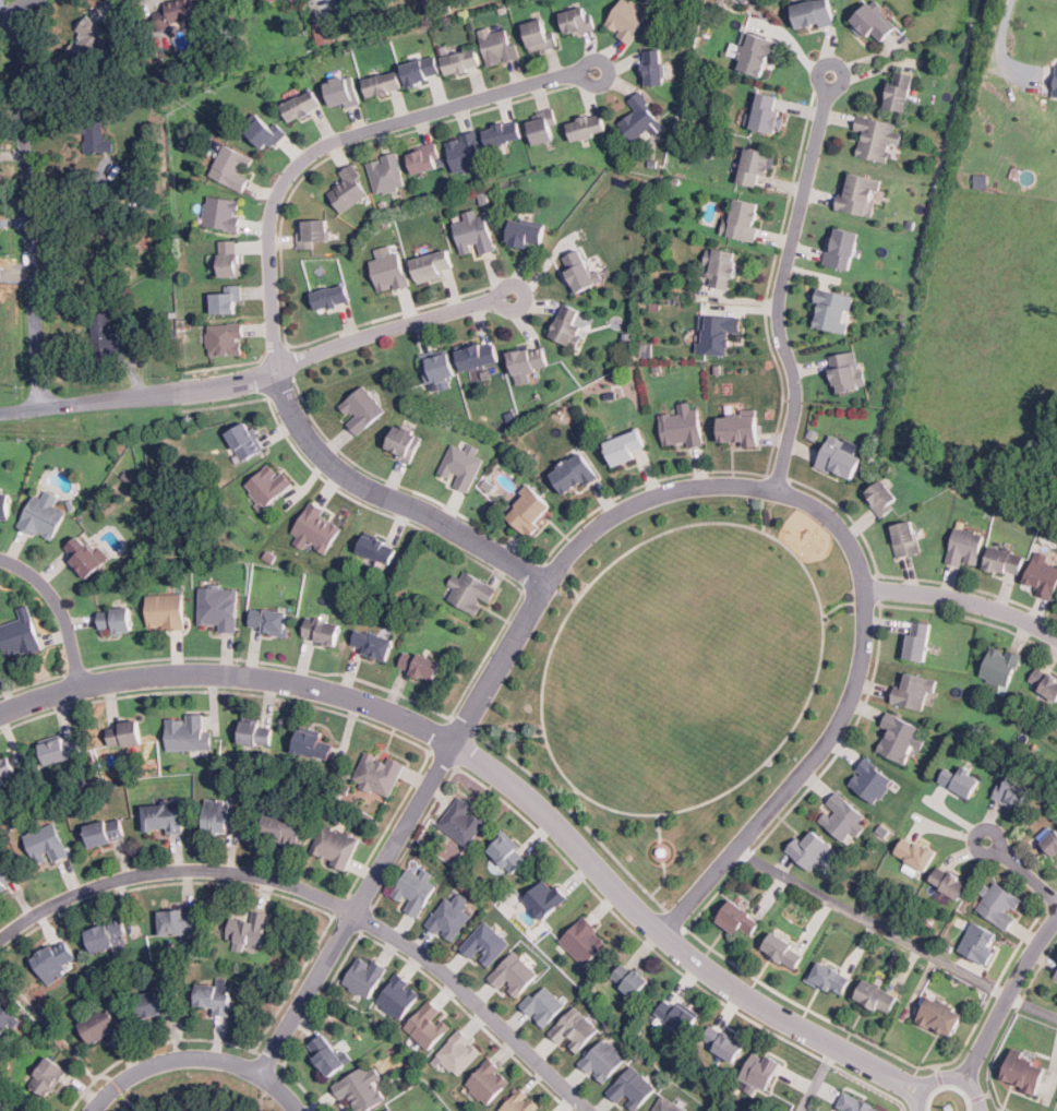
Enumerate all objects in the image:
building: (266, 0)
building: (272, 0)
road: (11, 5)
building: (179, 12)
building: (814, 13)
building: (360, 14)
building: (628, 19)
building: (578, 21)
building: (874, 23)
building: (324, 33)
building: (365, 34)
building: (539, 36)
building: (91, 41)
building: (497, 46)
road: (1001, 48)
building: (757, 55)
building: (463, 62)
building: (654, 68)
building: (422, 73)
building: (384, 84)
building: (343, 91)
building: (1056, 91)
building: (900, 92)
building: (302, 107)
building: (768, 112)
building: (642, 119)
building: (587, 129)
building: (542, 130)
building: (265, 133)
building: (96, 135)
building: (502, 135)
building: (876, 138)
building: (108, 150)
building: (466, 153)
building: (424, 159)
building: (756, 166)
building: (233, 167)
building: (387, 174)
building: (982, 180)
building: (139, 187)
building: (349, 189)
building: (862, 194)
road: (28, 206)
building: (223, 214)
building: (744, 219)
building: (911, 224)
building: (312, 232)
building: (476, 234)
building: (526, 234)
building: (843, 248)
building: (230, 258)
building: (433, 265)
building: (721, 268)
building: (579, 271)
building: (389, 272)
road: (783, 279)
road: (274, 285)
building: (331, 297)
building: (227, 301)
building: (833, 310)
building: (568, 327)
building: (719, 334)
building: (226, 338)
building: (104, 339)
building: (173, 339)
building: (644, 349)
road: (315, 354)
building: (479, 356)
building: (529, 360)
building: (439, 367)
building: (846, 372)
road: (58, 405)
building: (361, 409)
building: (683, 426)
building: (740, 429)
building: (405, 441)
building: (244, 442)
building: (626, 445)
building: (842, 457)
building: (461, 466)
building: (575, 473)
building: (483, 483)
building: (268, 485)
building: (882, 497)
road: (635, 499)
building: (4, 504)
building: (529, 510)
building: (44, 515)
building: (316, 528)
building: (905, 538)
building: (966, 546)
building: (376, 547)
building: (84, 555)
building: (1005, 560)
building: (1043, 575)
building: (471, 592)
building: (1056, 594)
road: (962, 600)
road: (63, 607)
building: (219, 607)
building: (166, 612)
building: (116, 619)
building: (269, 620)
building: (322, 630)
building: (21, 634)
building: (917, 640)
building: (372, 643)
building: (420, 664)
building: (1000, 666)
building: (1045, 682)
building: (915, 691)
building: (1055, 715)
building: (188, 732)
building: (256, 732)
building: (124, 733)
building: (900, 737)
building: (314, 744)
building: (62, 749)
building: (5, 768)
building: (380, 773)
road: (501, 776)
building: (962, 779)
building: (872, 780)
building: (1012, 791)
building: (165, 814)
building: (221, 815)
building: (843, 816)
building: (463, 821)
building: (283, 827)
building: (106, 831)
building: (1052, 841)
building: (47, 844)
building: (336, 845)
building: (809, 848)
building: (508, 852)
building: (915, 853)
road: (1022, 870)
building: (5, 873)
building: (952, 883)
building: (415, 891)
road: (323, 898)
building: (545, 898)
building: (1000, 905)
building: (451, 916)
building: (738, 918)
building: (179, 920)
building: (249, 929)
building: (108, 934)
road: (894, 934)
building: (585, 941)
building: (981, 942)
building: (485, 943)
building: (784, 951)
building: (56, 959)
building: (514, 973)
building: (365, 975)
building: (1056, 976)
building: (830, 977)
building: (630, 978)
building: (399, 996)
building: (878, 996)
building: (1055, 996)
building: (215, 997)
road: (1008, 999)
building: (156, 1002)
building: (543, 1004)
building: (676, 1015)
building: (941, 1016)
building: (5, 1019)
building: (100, 1025)
building: (429, 1025)
building: (574, 1029)
building: (723, 1041)
building: (459, 1052)
road: (193, 1054)
building: (327, 1054)
building: (603, 1060)
building: (1025, 1071)
building: (761, 1073)
building: (48, 1076)
road: (948, 1076)
road: (816, 1078)
building: (489, 1082)
building: (633, 1087)
building: (361, 1089)
park: (193, 1091)
road: (259, 1095)
road: (124, 1097)
building: (521, 1102)
building: (857, 1103)
building: (669, 1106)
building: (394, 1109)
building: (15, 1110)
building: (387, 1110)
building: (398, 1110)
building: (545, 1110)

